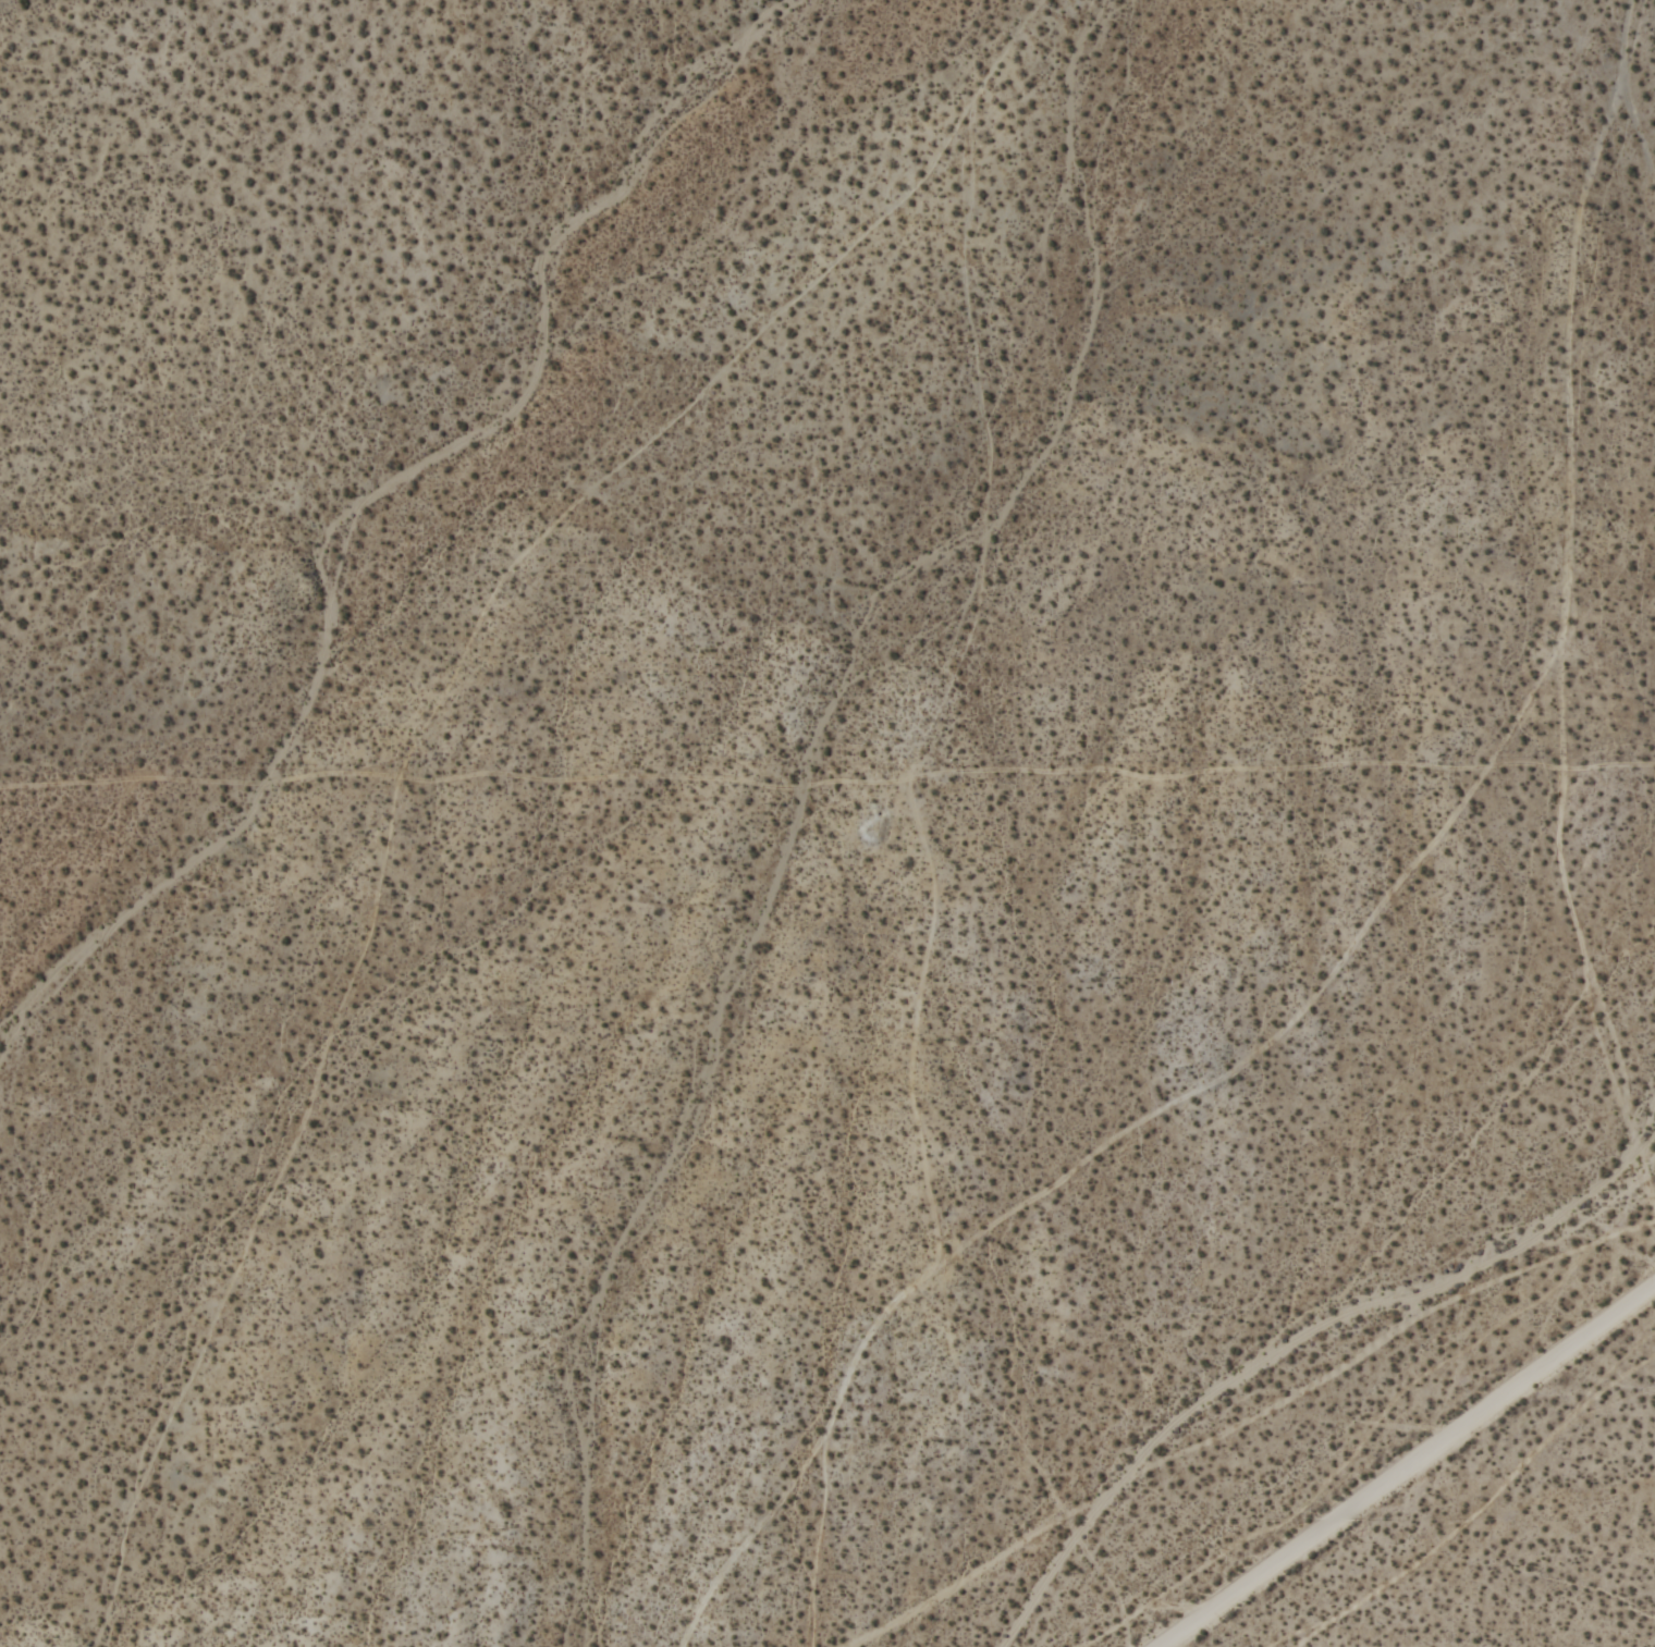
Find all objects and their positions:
road: (1409, 1467)

